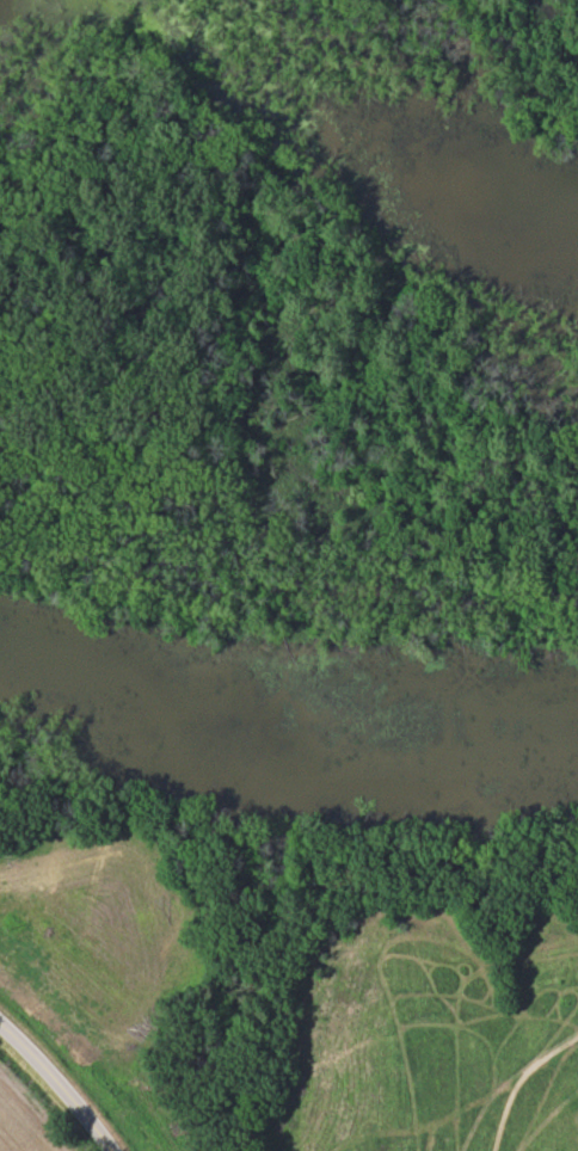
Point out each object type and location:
road: (64, 1082)

